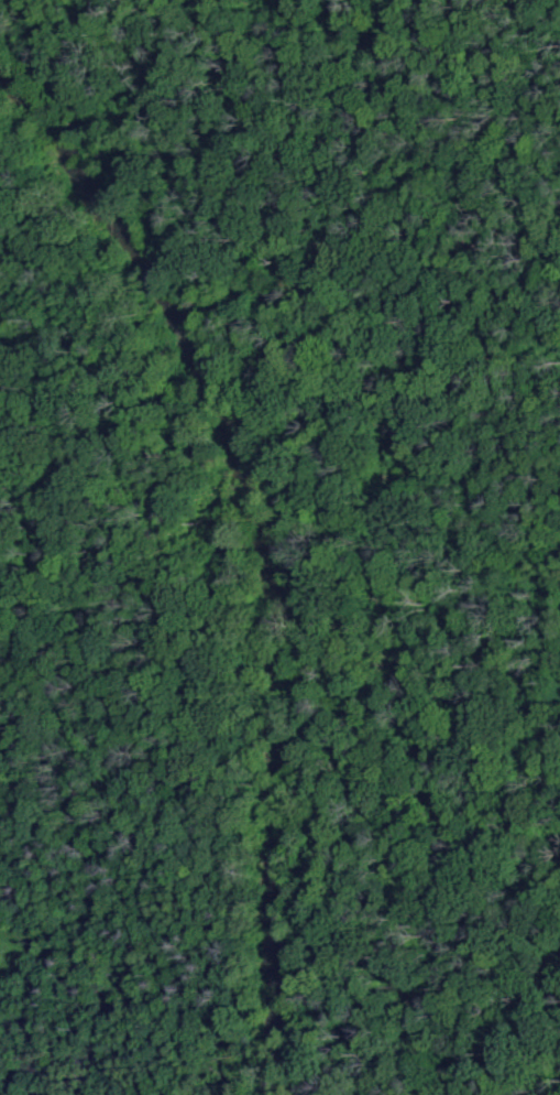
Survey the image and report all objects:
park: (279, 547)

